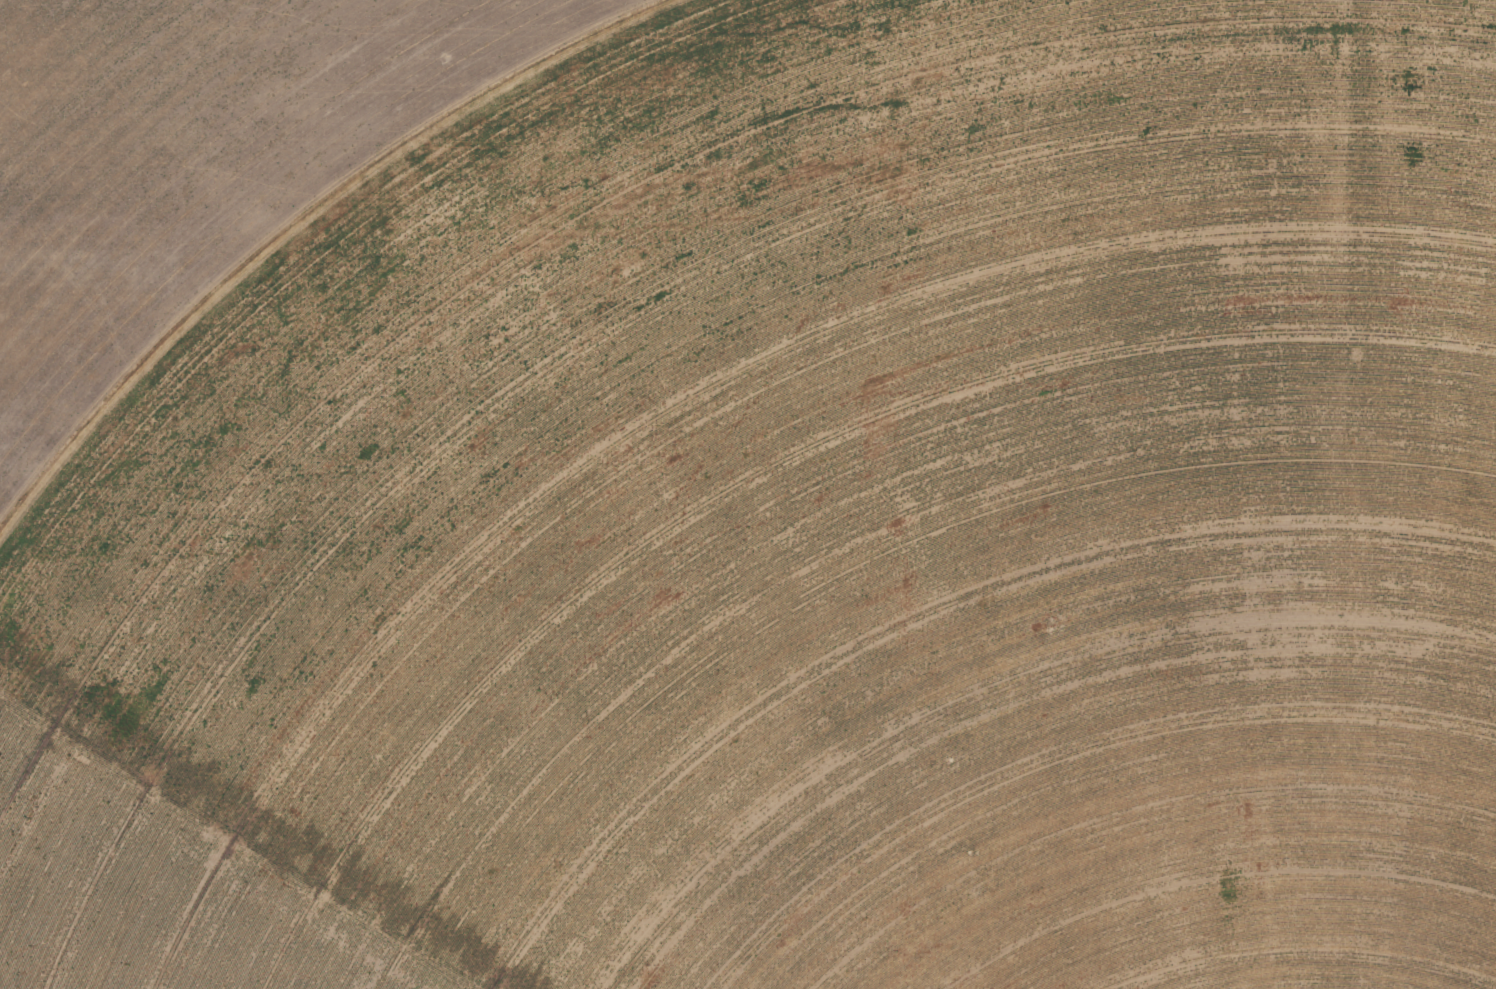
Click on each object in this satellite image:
crop: (748, 494)

